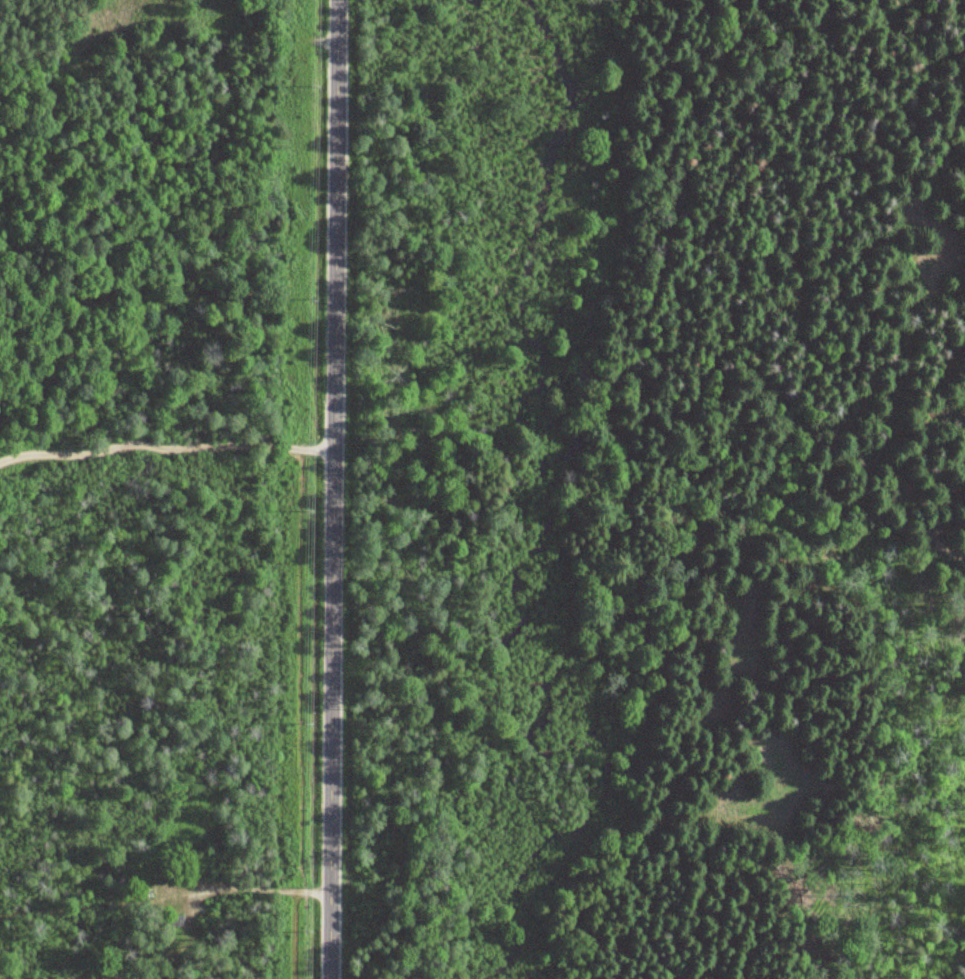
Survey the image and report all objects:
road: (338, 489)
road: (242, 938)

